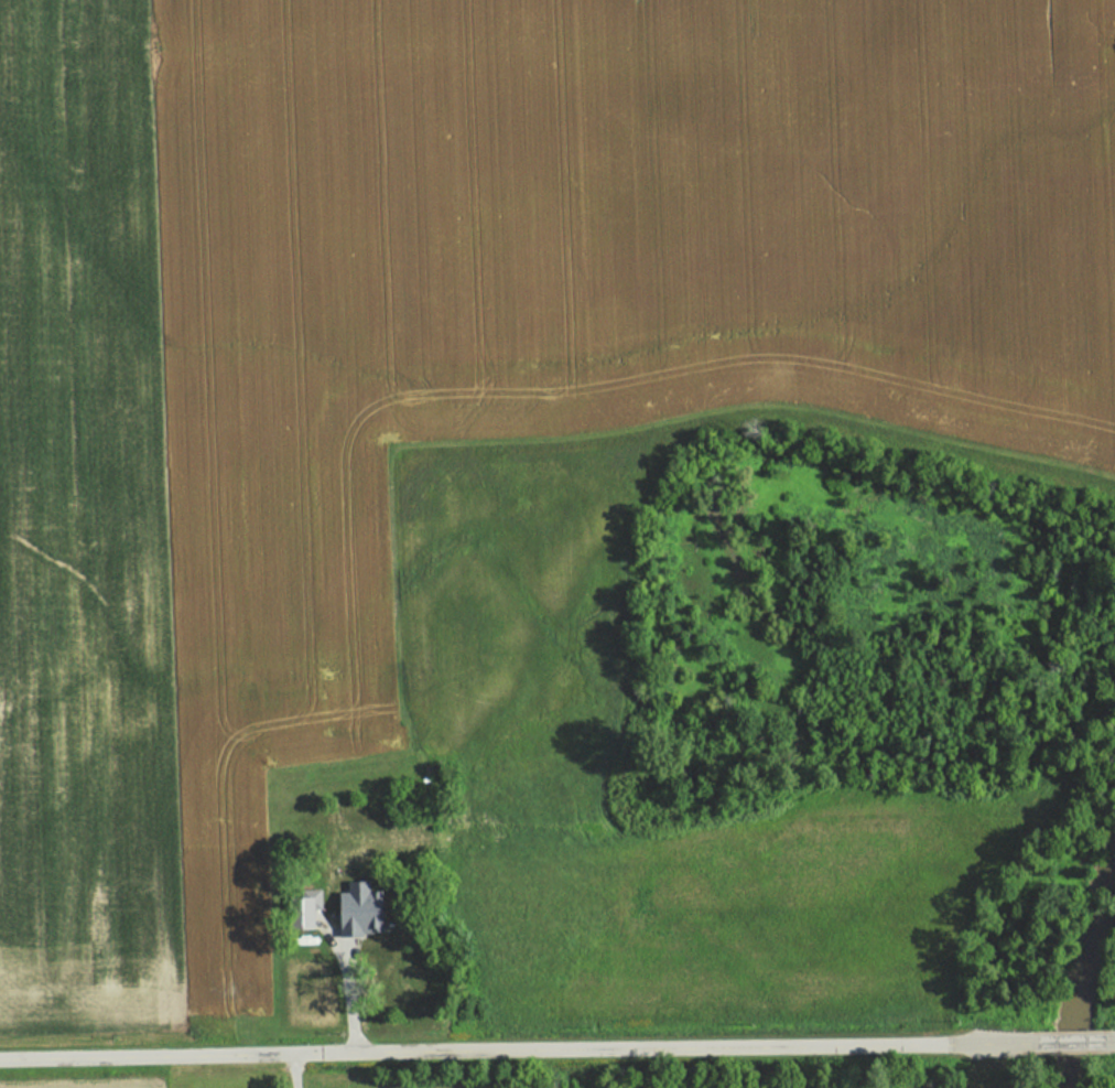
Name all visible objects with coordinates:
building: (360, 911)
road: (345, 990)
road: (556, 1047)
road: (289, 1070)

